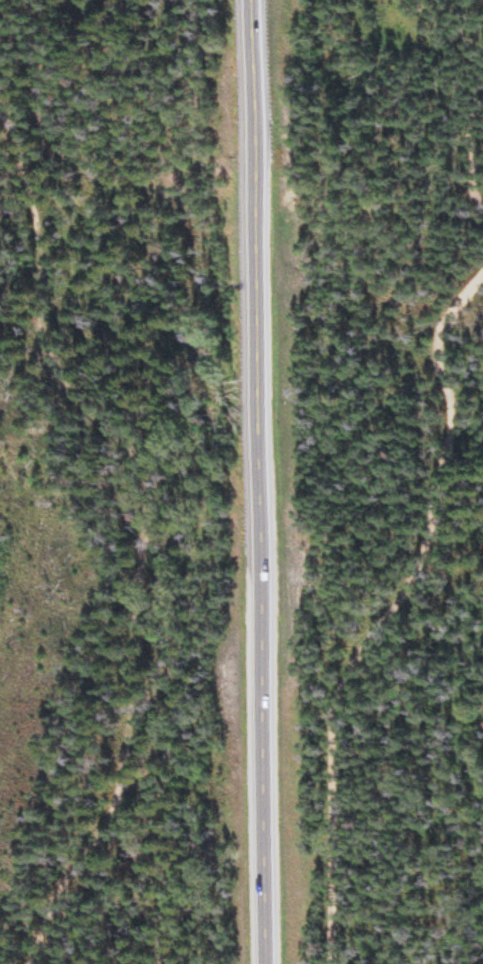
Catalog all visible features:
road: (478, 148)
road: (251, 482)
road: (144, 523)
road: (393, 612)

